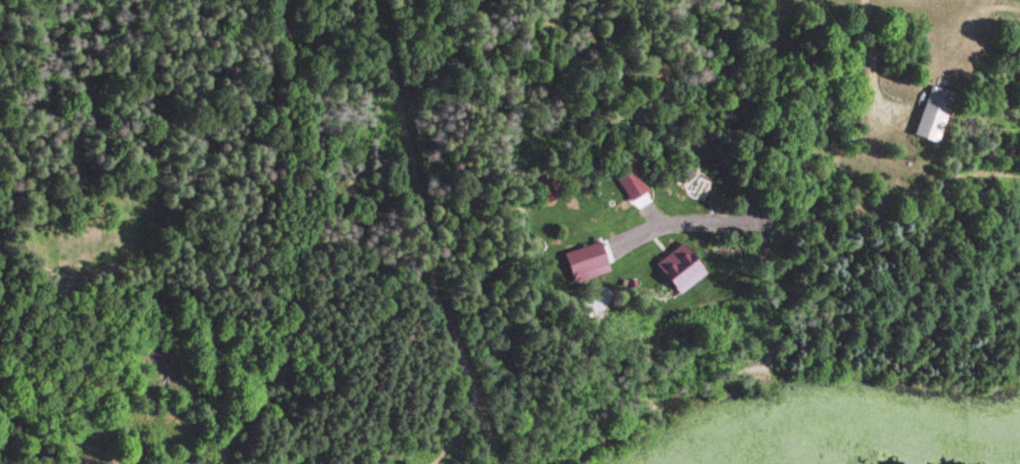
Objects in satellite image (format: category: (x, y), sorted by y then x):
building: (932, 113)

